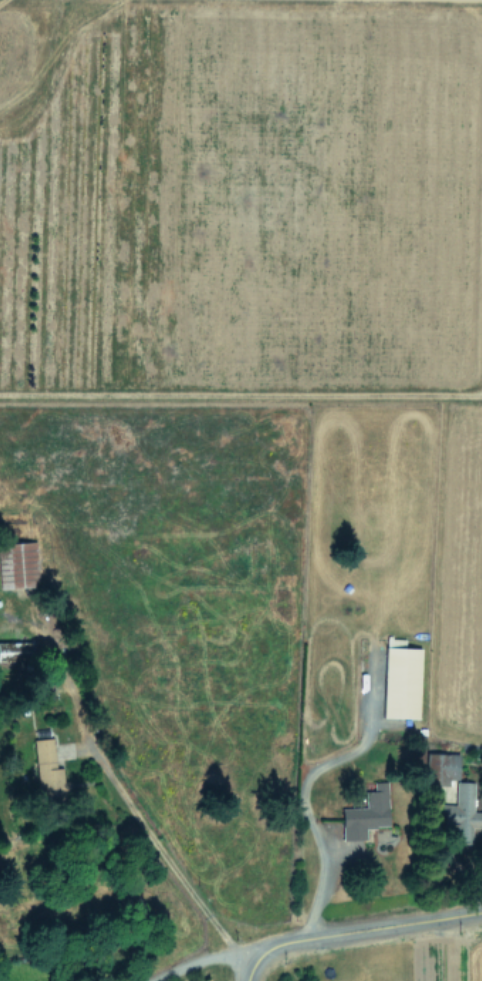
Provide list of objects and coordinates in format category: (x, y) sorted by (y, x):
crop: (258, 406)
building: (18, 565)
building: (14, 651)
building: (400, 679)
building: (47, 771)
road: (302, 784)
building: (366, 813)
building: (460, 814)
road: (150, 839)
road: (363, 929)
road: (199, 958)
road: (247, 971)

